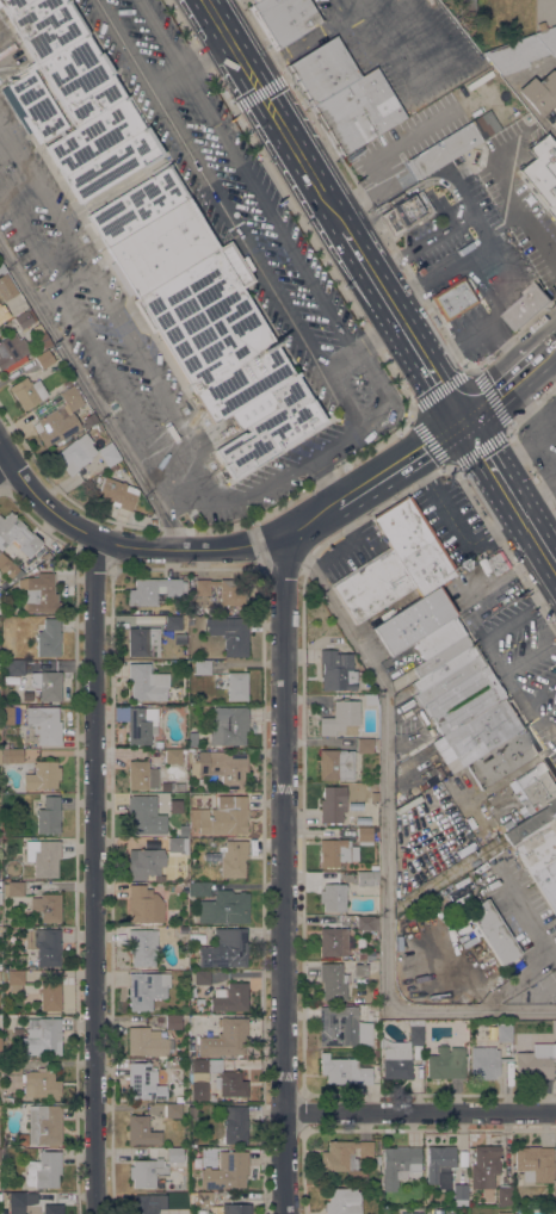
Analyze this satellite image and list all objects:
building: (253, 1)
building: (467, 7)
building: (283, 19)
building: (43, 25)
building: (523, 51)
road: (191, 61)
building: (80, 80)
traffic signals: (261, 92)
building: (539, 92)
building: (342, 97)
building: (33, 106)
road: (274, 116)
building: (94, 136)
building: (441, 150)
building: (115, 163)
building: (542, 171)
road: (216, 184)
road: (395, 198)
building: (138, 205)
building: (404, 211)
road: (270, 216)
road: (365, 218)
road: (458, 223)
road: (530, 224)
building: (161, 248)
road: (363, 265)
building: (1, 268)
road: (501, 271)
building: (6, 287)
building: (453, 298)
building: (525, 308)
building: (2, 312)
building: (24, 320)
road: (404, 330)
building: (216, 336)
building: (42, 339)
road: (365, 345)
building: (11, 349)
road: (546, 353)
building: (44, 359)
building: (67, 384)
building: (27, 392)
road: (92, 392)
road: (500, 392)
road: (444, 395)
building: (70, 398)
road: (532, 410)
building: (88, 420)
traffic signals: (462, 423)
building: (56, 425)
road: (502, 427)
road: (437, 440)
building: (74, 453)
building: (109, 456)
road: (5, 462)
road: (296, 466)
road: (325, 481)
road: (501, 493)
building: (116, 494)
road: (455, 525)
building: (17, 534)
building: (414, 545)
road: (197, 550)
road: (339, 553)
building: (45, 556)
building: (495, 564)
building: (43, 565)
road: (550, 570)
building: (10, 571)
building: (371, 584)
building: (153, 590)
building: (224, 590)
building: (41, 594)
building: (8, 608)
building: (413, 620)
building: (10, 623)
building: (172, 623)
building: (229, 634)
building: (437, 637)
building: (48, 638)
building: (14, 640)
building: (143, 642)
road: (493, 651)
building: (440, 656)
building: (14, 667)
building: (445, 667)
building: (202, 668)
building: (336, 670)
building: (447, 680)
building: (147, 682)
building: (47, 685)
building: (236, 686)
building: (464, 700)
building: (121, 713)
building: (8, 714)
building: (340, 718)
building: (44, 724)
building: (141, 724)
building: (228, 725)
building: (478, 731)
building: (192, 739)
building: (157, 744)
building: (364, 745)
road: (552, 745)
building: (172, 754)
building: (11, 755)
building: (502, 757)
building: (335, 764)
building: (220, 766)
building: (42, 775)
building: (141, 775)
building: (536, 787)
building: (373, 797)
building: (332, 804)
building: (174, 806)
building: (47, 815)
building: (141, 815)
building: (223, 816)
building: (531, 822)
building: (183, 830)
building: (364, 835)
road: (388, 841)
building: (175, 847)
building: (335, 853)
building: (43, 857)
building: (231, 859)
building: (540, 859)
building: (146, 863)
building: (481, 868)
road: (95, 877)
road: (284, 877)
building: (366, 879)
building: (12, 888)
building: (202, 888)
building: (333, 897)
building: (143, 905)
building: (47, 906)
building: (229, 906)
building: (366, 923)
building: (192, 930)
building: (490, 931)
building: (334, 942)
building: (43, 944)
building: (142, 947)
building: (226, 949)
building: (360, 955)
building: (359, 970)
building: (202, 978)
building: (13, 980)
building: (333, 981)
building: (146, 990)
building: (49, 996)
building: (230, 997)
building: (173, 1022)
building: (338, 1026)
building: (504, 1032)
building: (41, 1036)
building: (226, 1038)
building: (146, 1042)
building: (375, 1045)
building: (375, 1053)
building: (400, 1053)
building: (14, 1057)
building: (484, 1063)
building: (445, 1064)
building: (533, 1065)
building: (11, 1066)
building: (344, 1071)
building: (197, 1078)
building: (143, 1082)
building: (42, 1084)
building: (171, 1098)
building: (179, 1098)
building: (173, 1110)
building: (191, 1113)
road: (421, 1113)
building: (44, 1125)
building: (234, 1125)
building: (141, 1131)
building: (174, 1154)
building: (345, 1158)
building: (397, 1164)
building: (535, 1164)
building: (440, 1166)
building: (483, 1166)
building: (43, 1170)
building: (147, 1171)
building: (226, 1171)
building: (459, 1191)
building: (504, 1196)
building: (199, 1198)
building: (20, 1201)
building: (341, 1201)
building: (148, 1203)
building: (51, 1209)
building: (235, 1209)
building: (4, 1210)
building: (410, 1213)
building: (504, 1213)

